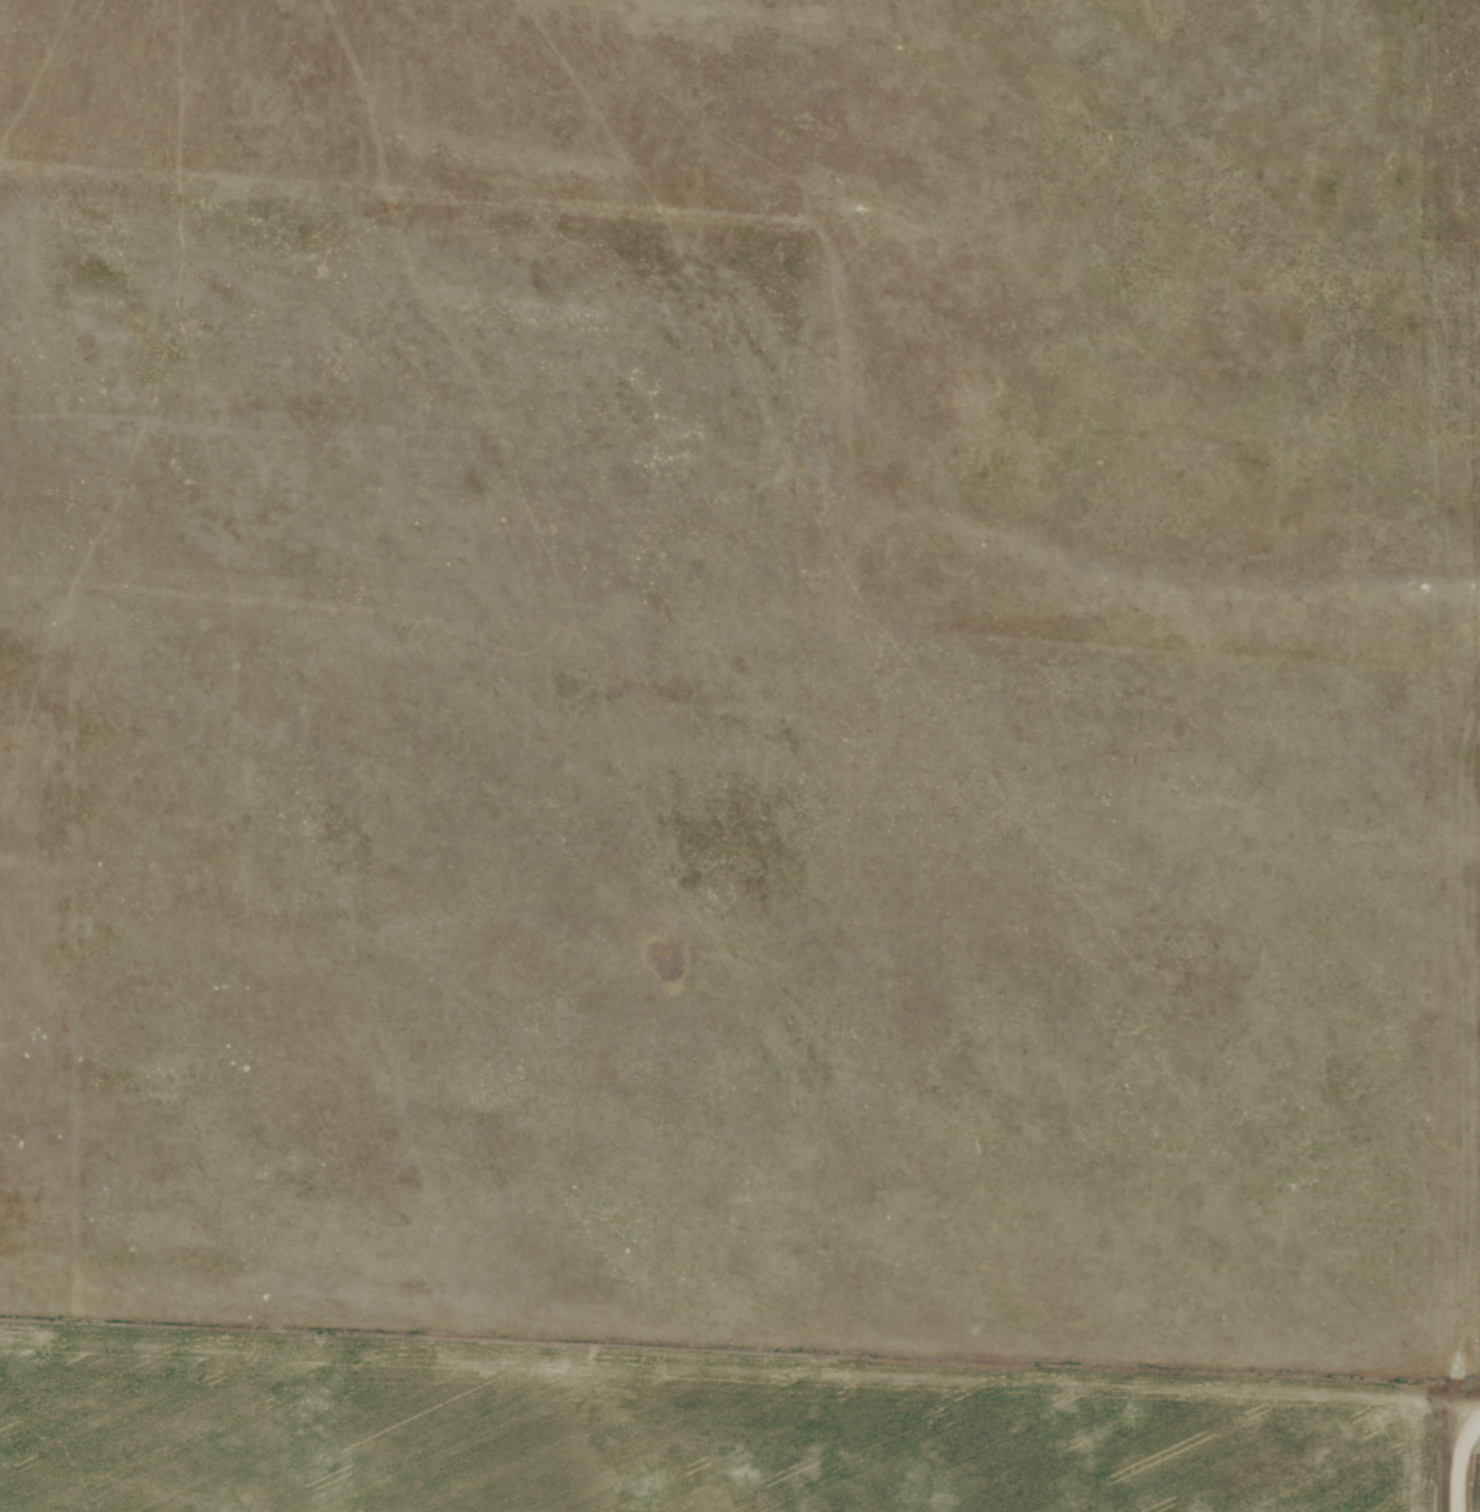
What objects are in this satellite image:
road: (1478, 1415)
crop: (672, 1429)
road: (1459, 1462)

